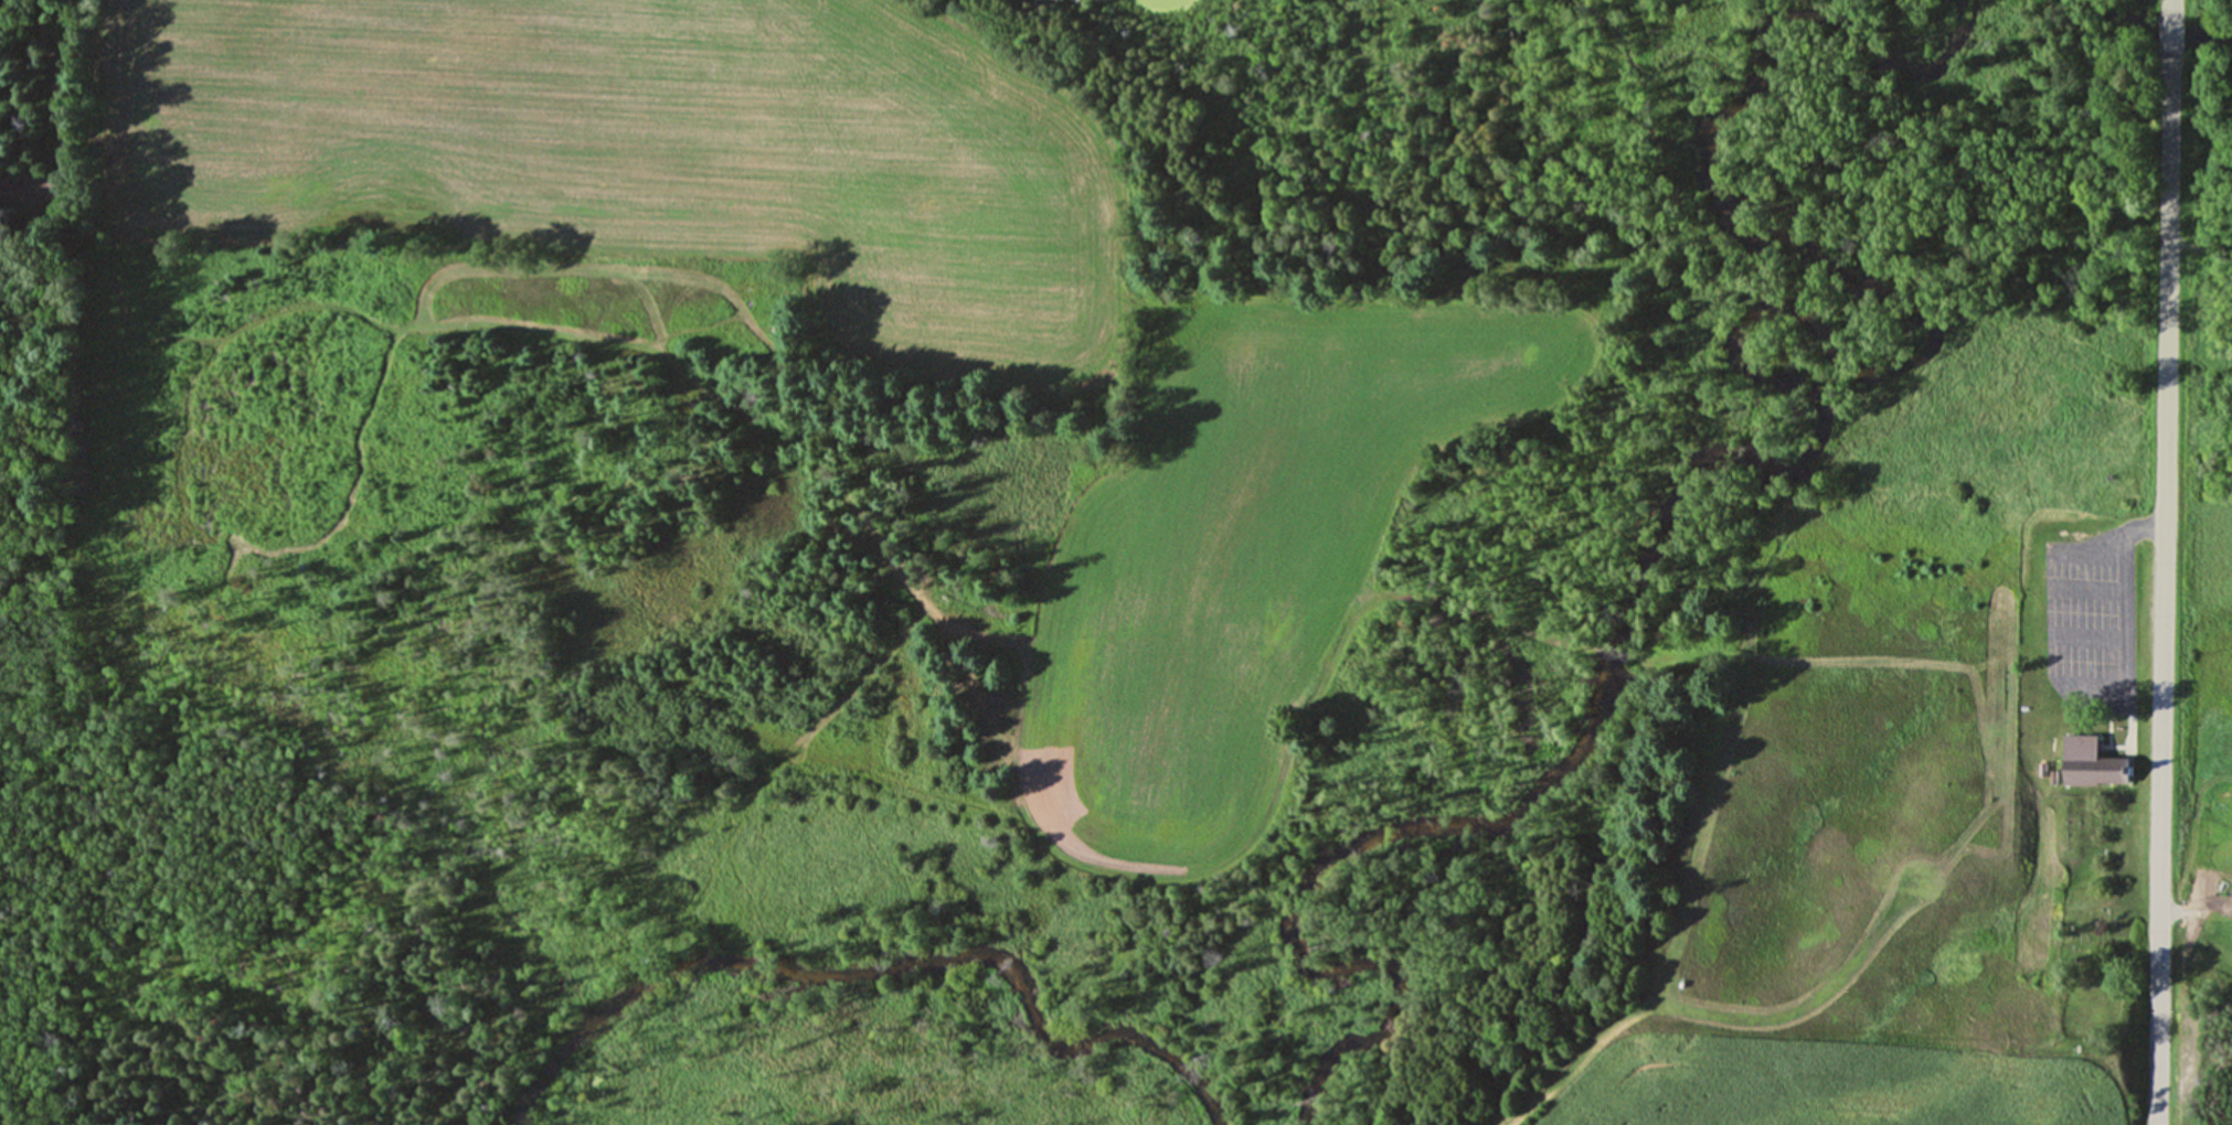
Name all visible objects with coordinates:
road: (2162, 3)
river: (2156, 26)
road: (2162, 26)
river: (1792, 453)
road: (2114, 580)
road: (2157, 585)
building: (2081, 753)
park: (1922, 781)
road: (2196, 910)
river: (867, 965)

